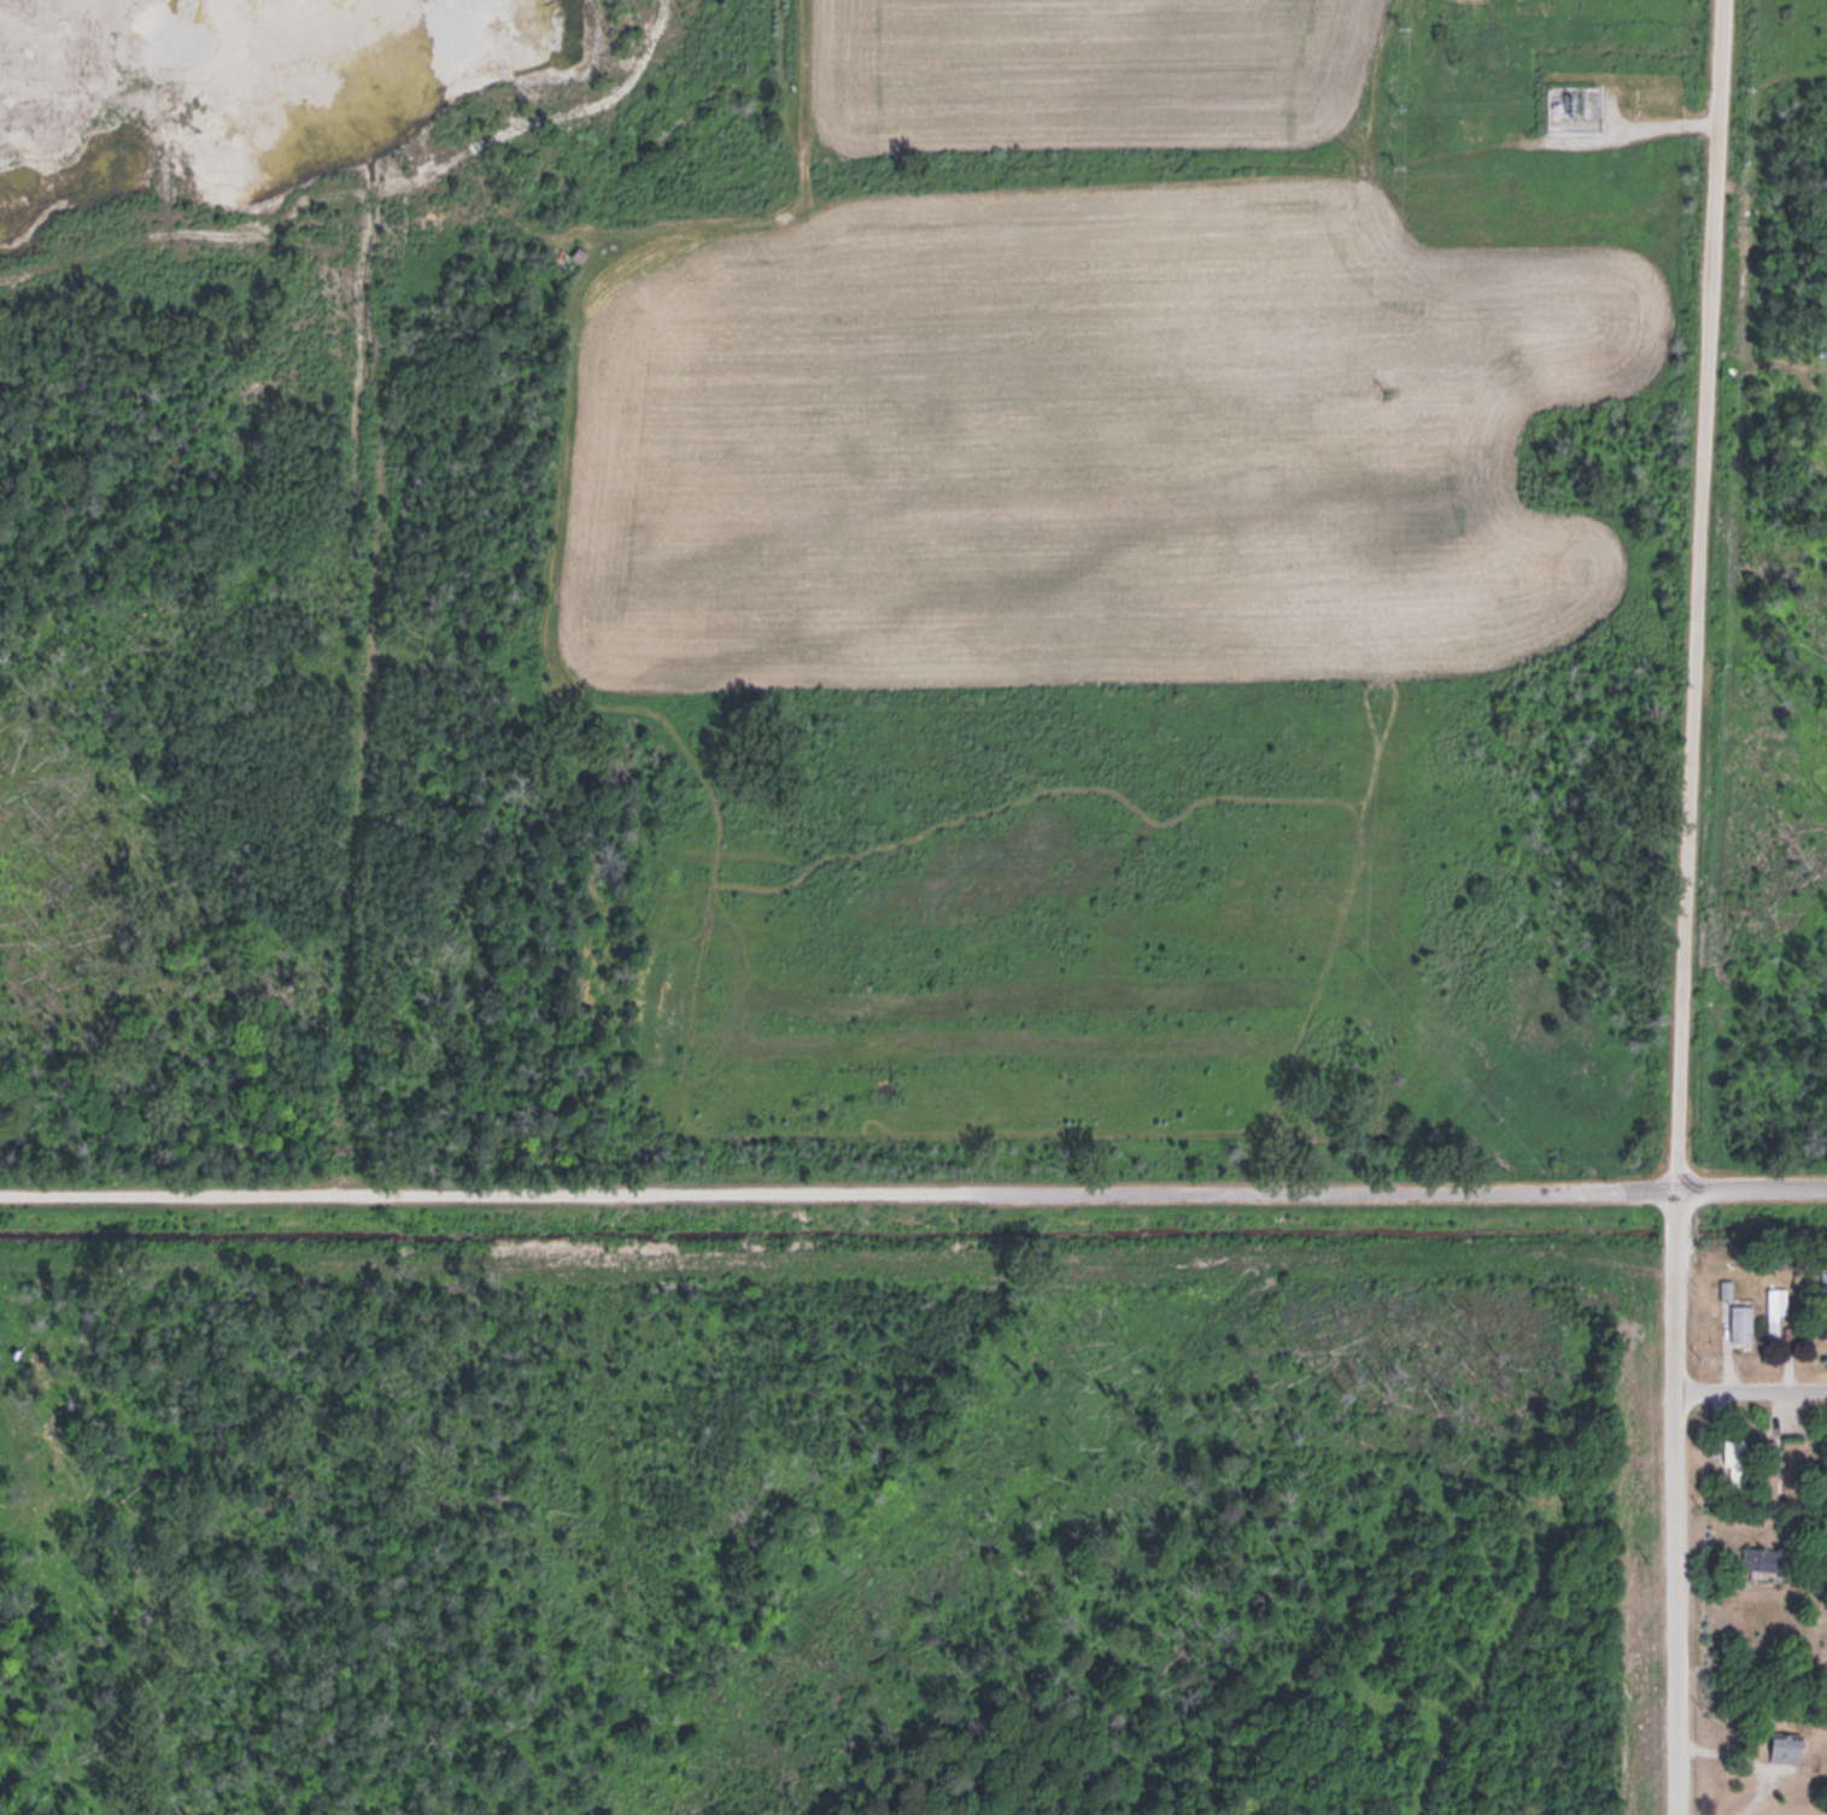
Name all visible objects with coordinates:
building: (578, 252)
road: (379, 488)
road: (1685, 907)
road: (913, 1195)
building: (1774, 1311)
building: (1738, 1316)
road: (1749, 1388)
building: (1733, 1462)
building: (1761, 1557)
building: (1785, 1745)

